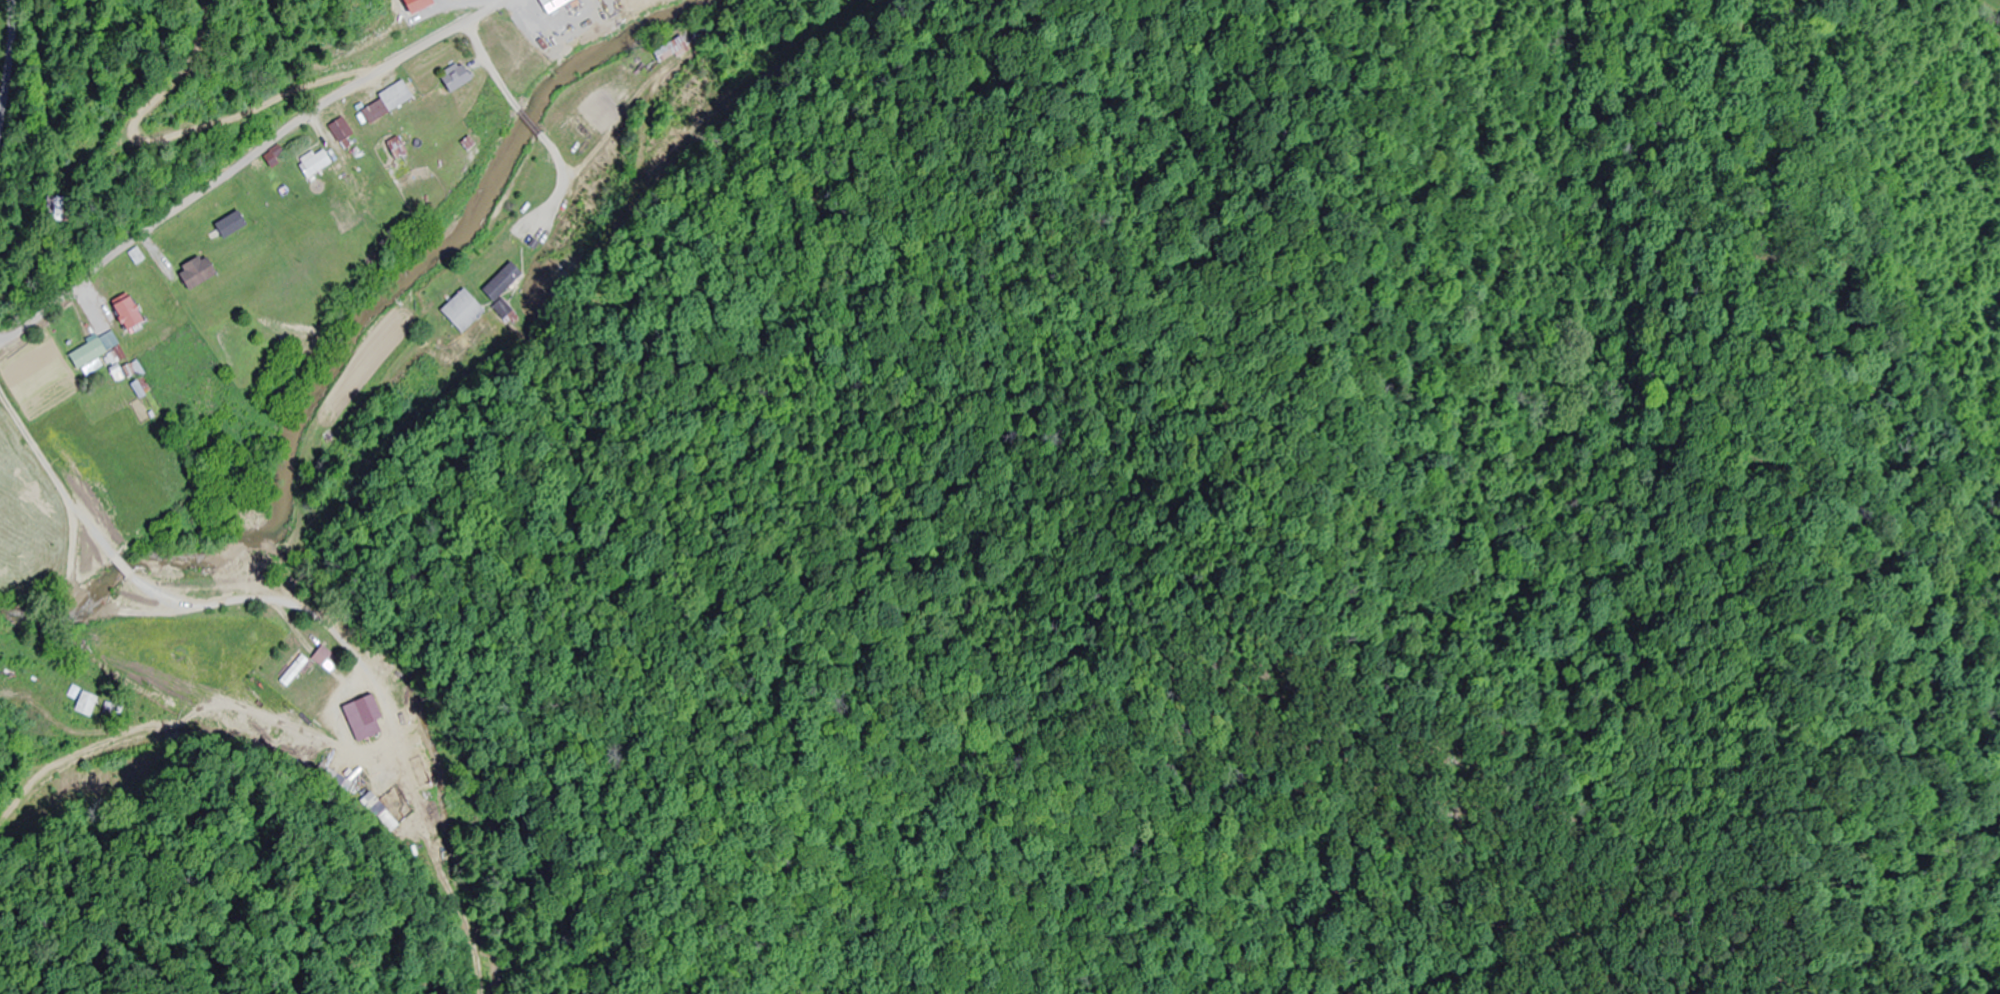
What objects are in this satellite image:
building: (408, 5)
building: (549, 5)
building: (678, 44)
building: (452, 77)
road: (16, 80)
building: (383, 102)
building: (340, 129)
road: (244, 163)
building: (313, 164)
building: (193, 273)
building: (502, 288)
building: (461, 312)
building: (122, 313)
building: (86, 354)
building: (323, 658)
building: (292, 671)
building: (85, 703)

